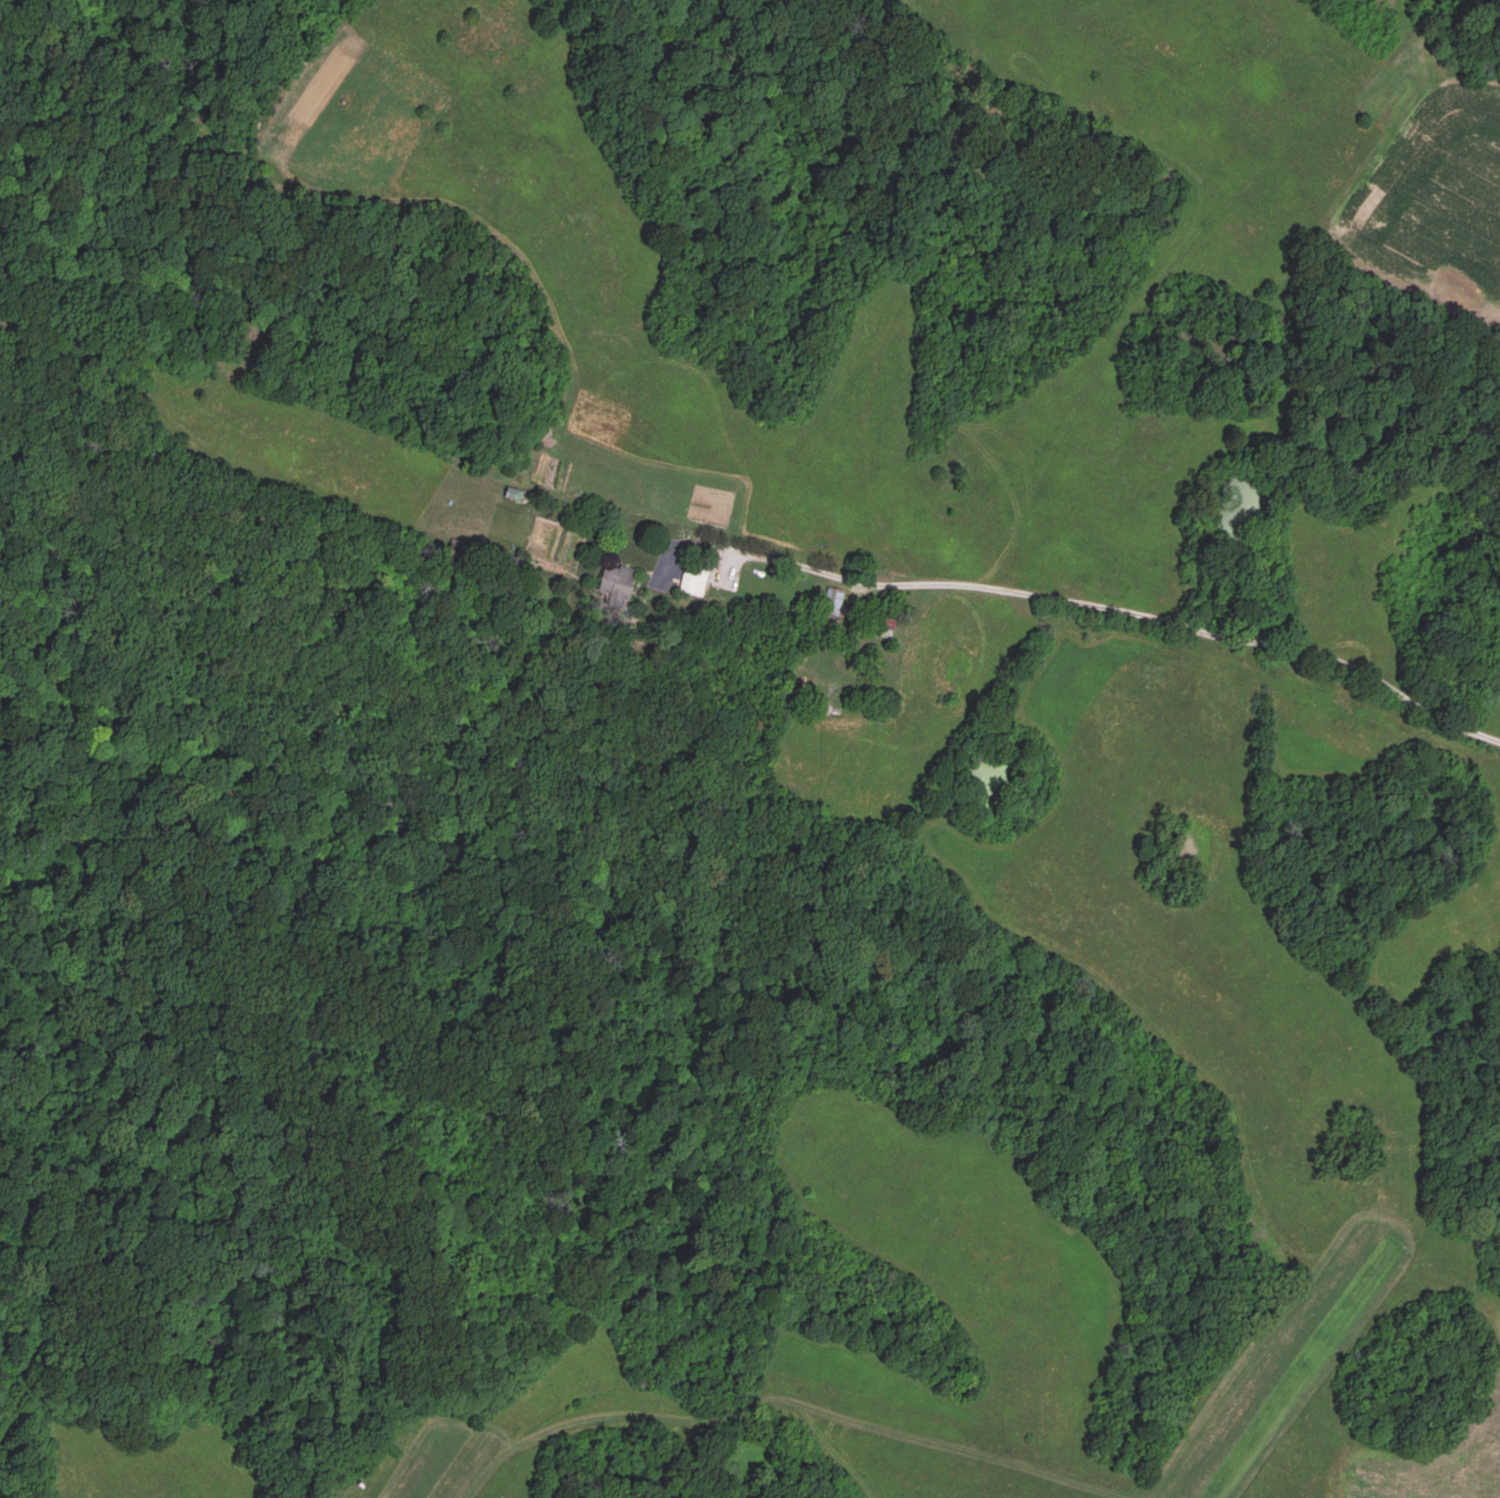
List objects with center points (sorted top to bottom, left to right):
building: (515, 493)
building: (695, 578)
building: (620, 582)
building: (831, 601)
road: (1076, 606)
building: (885, 627)
road: (120, 1314)
road: (514, 1383)
road: (1418, 1469)

